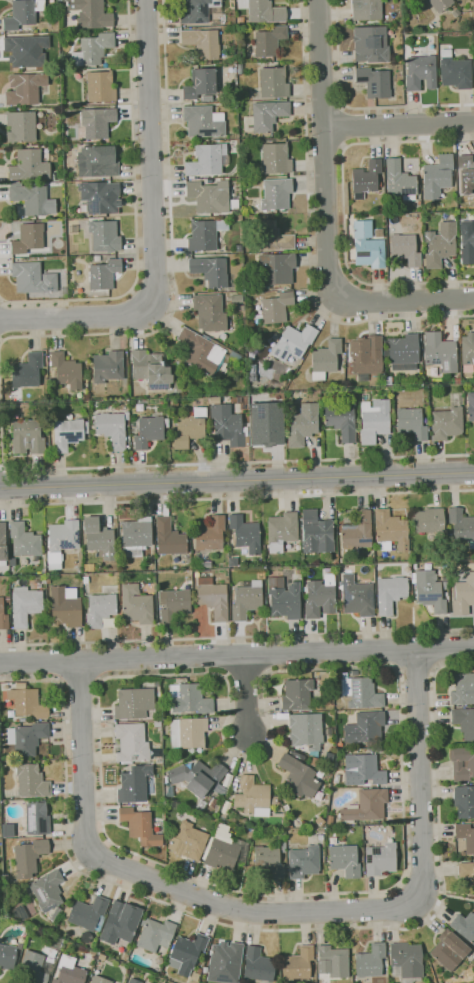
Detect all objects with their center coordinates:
building: (441, 4)
building: (473, 6)
building: (196, 10)
building: (263, 10)
building: (367, 10)
building: (23, 13)
building: (91, 13)
building: (456, 13)
building: (240, 20)
building: (269, 40)
building: (203, 42)
building: (371, 44)
building: (92, 49)
building: (27, 50)
building: (455, 71)
building: (421, 73)
building: (200, 82)
building: (274, 82)
building: (374, 82)
building: (101, 86)
building: (25, 88)
building: (207, 98)
building: (234, 105)
road: (324, 108)
road: (355, 108)
building: (268, 114)
building: (97, 121)
building: (204, 121)
road: (398, 124)
building: (21, 126)
road: (344, 127)
road: (324, 149)
road: (325, 154)
road: (151, 157)
building: (276, 158)
building: (206, 160)
building: (97, 162)
building: (29, 166)
building: (466, 174)
building: (437, 177)
building: (366, 178)
building: (400, 181)
building: (276, 194)
building: (210, 196)
building: (99, 198)
building: (33, 199)
building: (419, 202)
building: (423, 208)
road: (344, 209)
road: (135, 212)
building: (205, 234)
building: (105, 235)
road: (309, 235)
building: (272, 236)
building: (28, 237)
building: (467, 242)
building: (367, 245)
building: (440, 245)
building: (405, 248)
road: (171, 250)
building: (276, 268)
building: (211, 271)
building: (104, 274)
building: (33, 278)
building: (63, 288)
building: (237, 299)
road: (406, 301)
building: (277, 307)
building: (241, 308)
building: (211, 313)
road: (70, 319)
road: (0, 320)
road: (1, 341)
building: (294, 342)
building: (403, 349)
building: (201, 350)
building: (440, 352)
building: (468, 352)
building: (235, 356)
building: (366, 356)
building: (325, 359)
building: (108, 367)
building: (152, 369)
building: (66, 370)
building: (28, 371)
building: (252, 377)
building: (457, 380)
building: (214, 399)
building: (471, 405)
building: (467, 410)
building: (127, 417)
building: (410, 419)
building: (342, 421)
building: (375, 421)
building: (265, 423)
building: (447, 423)
building: (303, 424)
building: (229, 426)
building: (86, 427)
building: (189, 428)
building: (112, 429)
building: (150, 431)
building: (67, 434)
building: (27, 437)
road: (191, 462)
road: (2, 468)
road: (236, 480)
road: (5, 487)
road: (237, 499)
building: (428, 520)
building: (462, 526)
building: (390, 530)
building: (282, 531)
building: (245, 533)
building: (210, 534)
building: (317, 534)
building: (356, 535)
building: (136, 536)
building: (99, 537)
building: (169, 537)
building: (24, 540)
building: (61, 541)
building: (46, 543)
building: (3, 545)
building: (89, 567)
building: (123, 568)
building: (298, 570)
building: (445, 578)
building: (37, 580)
building: (86, 580)
building: (44, 581)
building: (445, 585)
building: (430, 591)
building: (391, 593)
building: (464, 595)
building: (358, 596)
building: (213, 597)
building: (321, 597)
building: (448, 597)
building: (8, 598)
building: (284, 598)
building: (247, 600)
building: (174, 603)
building: (136, 604)
building: (25, 605)
building: (65, 608)
building: (99, 608)
building: (3, 616)
road: (237, 637)
road: (237, 655)
building: (471, 668)
road: (417, 669)
road: (80, 681)
building: (21, 685)
building: (463, 689)
building: (361, 692)
road: (246, 694)
building: (297, 694)
building: (190, 698)
building: (28, 703)
building: (134, 703)
building: (23, 719)
building: (464, 721)
building: (157, 723)
building: (365, 727)
building: (158, 729)
building: (306, 731)
building: (188, 732)
building: (27, 738)
building: (132, 742)
building: (315, 761)
building: (469, 764)
building: (363, 770)
building: (300, 776)
building: (198, 777)
building: (32, 781)
road: (403, 782)
building: (134, 784)
building: (169, 791)
building: (253, 797)
building: (275, 800)
building: (464, 801)
building: (213, 803)
building: (201, 804)
building: (367, 805)
building: (37, 818)
building: (330, 819)
building: (320, 821)
building: (140, 826)
building: (466, 836)
building: (189, 841)
building: (283, 848)
building: (222, 852)
building: (29, 857)
building: (284, 859)
building: (380, 859)
building: (345, 860)
building: (270, 861)
building: (305, 861)
building: (466, 871)
building: (48, 890)
building: (86, 912)
road: (279, 913)
building: (56, 914)
building: (118, 925)
building: (464, 926)
road: (271, 930)
building: (156, 934)
building: (86, 936)
building: (54, 942)
building: (449, 949)
building: (187, 950)
building: (7, 956)
building: (88, 957)
building: (225, 959)
building: (333, 961)
building: (371, 961)
building: (407, 961)
building: (300, 963)
building: (385, 963)
building: (259, 965)
building: (34, 967)
building: (205, 969)
building: (70, 970)
building: (99, 979)
building: (135, 981)
building: (86, 982)

